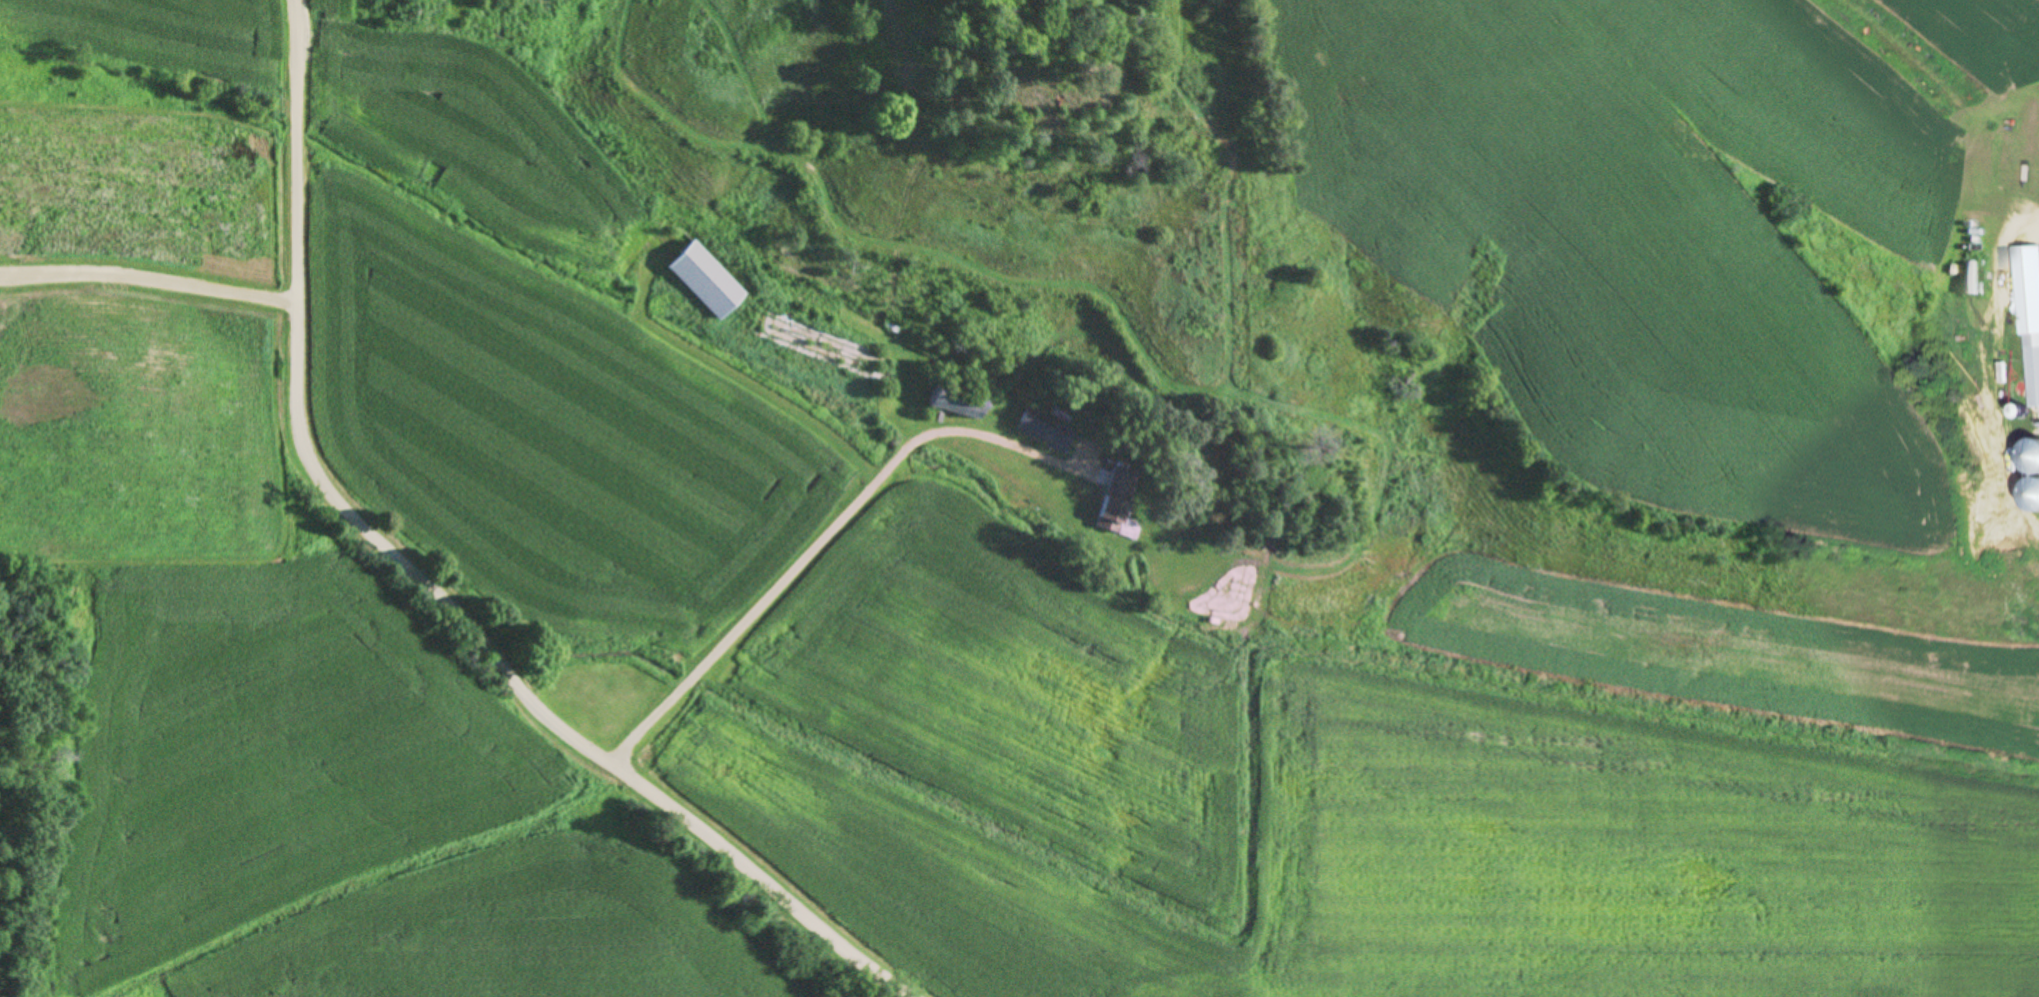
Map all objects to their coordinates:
building: (501, 23)
road: (147, 275)
building: (704, 280)
building: (2031, 329)
building: (818, 345)
building: (955, 400)
building: (1045, 431)
building: (1116, 501)
road: (832, 529)
road: (431, 591)

